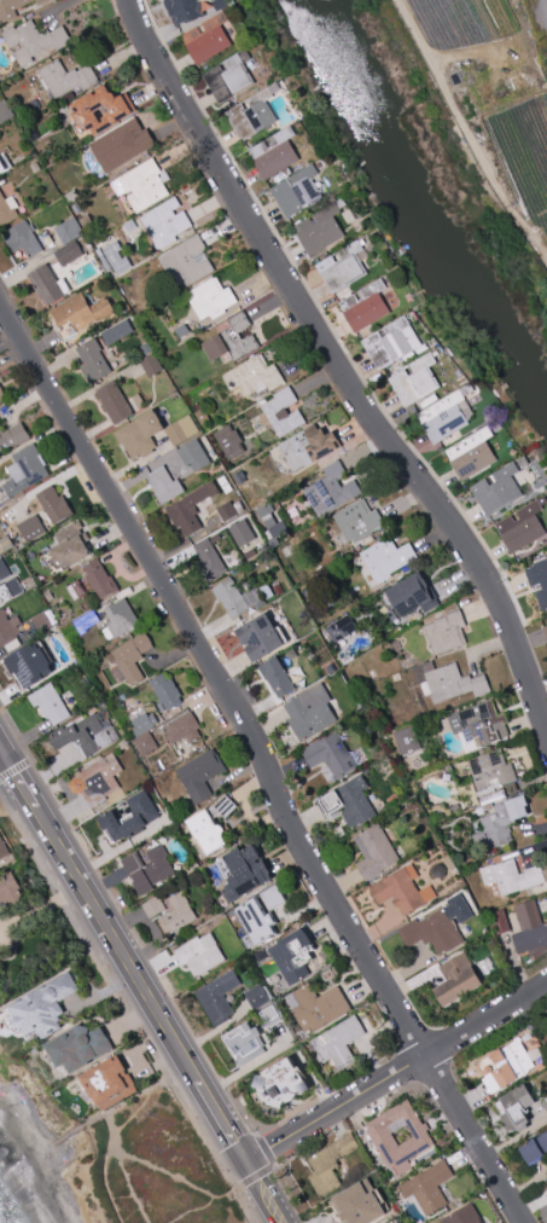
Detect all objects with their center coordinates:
building: (40, 1)
building: (219, 2)
building: (10, 7)
building: (182, 8)
crop: (460, 23)
building: (206, 36)
building: (34, 39)
building: (228, 75)
building: (65, 77)
building: (101, 106)
building: (5, 110)
building: (252, 111)
building: (33, 132)
road: (467, 134)
building: (121, 143)
building: (274, 151)
crop: (522, 152)
building: (5, 162)
building: (142, 184)
building: (297, 190)
building: (72, 195)
building: (7, 208)
building: (348, 215)
building: (87, 221)
building: (165, 222)
building: (129, 225)
building: (320, 226)
building: (69, 228)
building: (187, 233)
building: (23, 238)
building: (69, 253)
building: (117, 256)
building: (104, 260)
building: (186, 261)
building: (343, 266)
building: (47, 284)
building: (210, 297)
building: (368, 303)
building: (80, 313)
building: (182, 330)
building: (117, 331)
building: (232, 340)
building: (390, 341)
building: (93, 360)
building: (152, 364)
road: (338, 372)
building: (254, 375)
building: (414, 379)
building: (2, 394)
building: (139, 400)
building: (115, 402)
building: (283, 411)
building: (447, 415)
building: (202, 416)
building: (182, 430)
building: (140, 434)
building: (13, 435)
building: (228, 441)
building: (309, 446)
building: (471, 452)
building: (194, 454)
building: (23, 473)
building: (164, 483)
building: (330, 489)
building: (497, 489)
building: (54, 504)
building: (188, 510)
building: (227, 510)
building: (264, 511)
building: (356, 521)
building: (523, 526)
building: (275, 527)
building: (31, 528)
building: (242, 533)
building: (5, 544)
building: (70, 545)
building: (385, 557)
building: (209, 560)
building: (4, 569)
building: (100, 579)
building: (539, 580)
building: (10, 589)
building: (267, 591)
building: (72, 592)
building: (413, 595)
building: (235, 597)
building: (19, 613)
building: (51, 616)
building: (121, 619)
building: (87, 621)
building: (41, 622)
building: (342, 628)
building: (545, 631)
building: (446, 632)
building: (262, 637)
building: (546, 643)
building: (12, 644)
building: (130, 659)
building: (28, 666)
building: (278, 676)
building: (447, 682)
building: (85, 685)
building: (167, 691)
building: (50, 703)
building: (312, 712)
building: (141, 720)
building: (479, 725)
building: (185, 729)
building: (87, 734)
building: (408, 740)
building: (146, 743)
building: (332, 754)
road: (263, 764)
building: (491, 770)
building: (200, 775)
building: (95, 779)
road: (16, 783)
building: (493, 796)
building: (349, 802)
building: (130, 817)
building: (500, 824)
building: (211, 825)
building: (2, 850)
building: (377, 852)
building: (450, 863)
building: (147, 869)
building: (245, 873)
building: (546, 873)
building: (512, 876)
building: (8, 891)
building: (403, 891)
building: (274, 897)
building: (153, 906)
road: (42, 910)
building: (176, 915)
building: (258, 918)
building: (500, 922)
building: (440, 927)
building: (531, 929)
road: (7, 938)
road: (112, 946)
building: (200, 955)
building: (295, 956)
building: (0, 975)
building: (459, 980)
building: (258, 996)
building: (219, 997)
building: (43, 1007)
building: (318, 1007)
building: (269, 1015)
building: (338, 1042)
building: (245, 1043)
building: (78, 1047)
building: (535, 1051)
building: (506, 1061)
road: (394, 1073)
building: (107, 1083)
building: (281, 1083)
road: (132, 1100)
building: (546, 1105)
building: (516, 1106)
road: (111, 1123)
road: (217, 1123)
road: (115, 1134)
building: (398, 1135)
road: (53, 1142)
building: (534, 1147)
building: (328, 1161)
traffic signals: (243, 1165)
road: (267, 1169)
road: (168, 1172)
building: (429, 1187)
road: (260, 1194)
building: (357, 1202)
road: (190, 1208)
building: (462, 1215)
building: (395, 1222)

